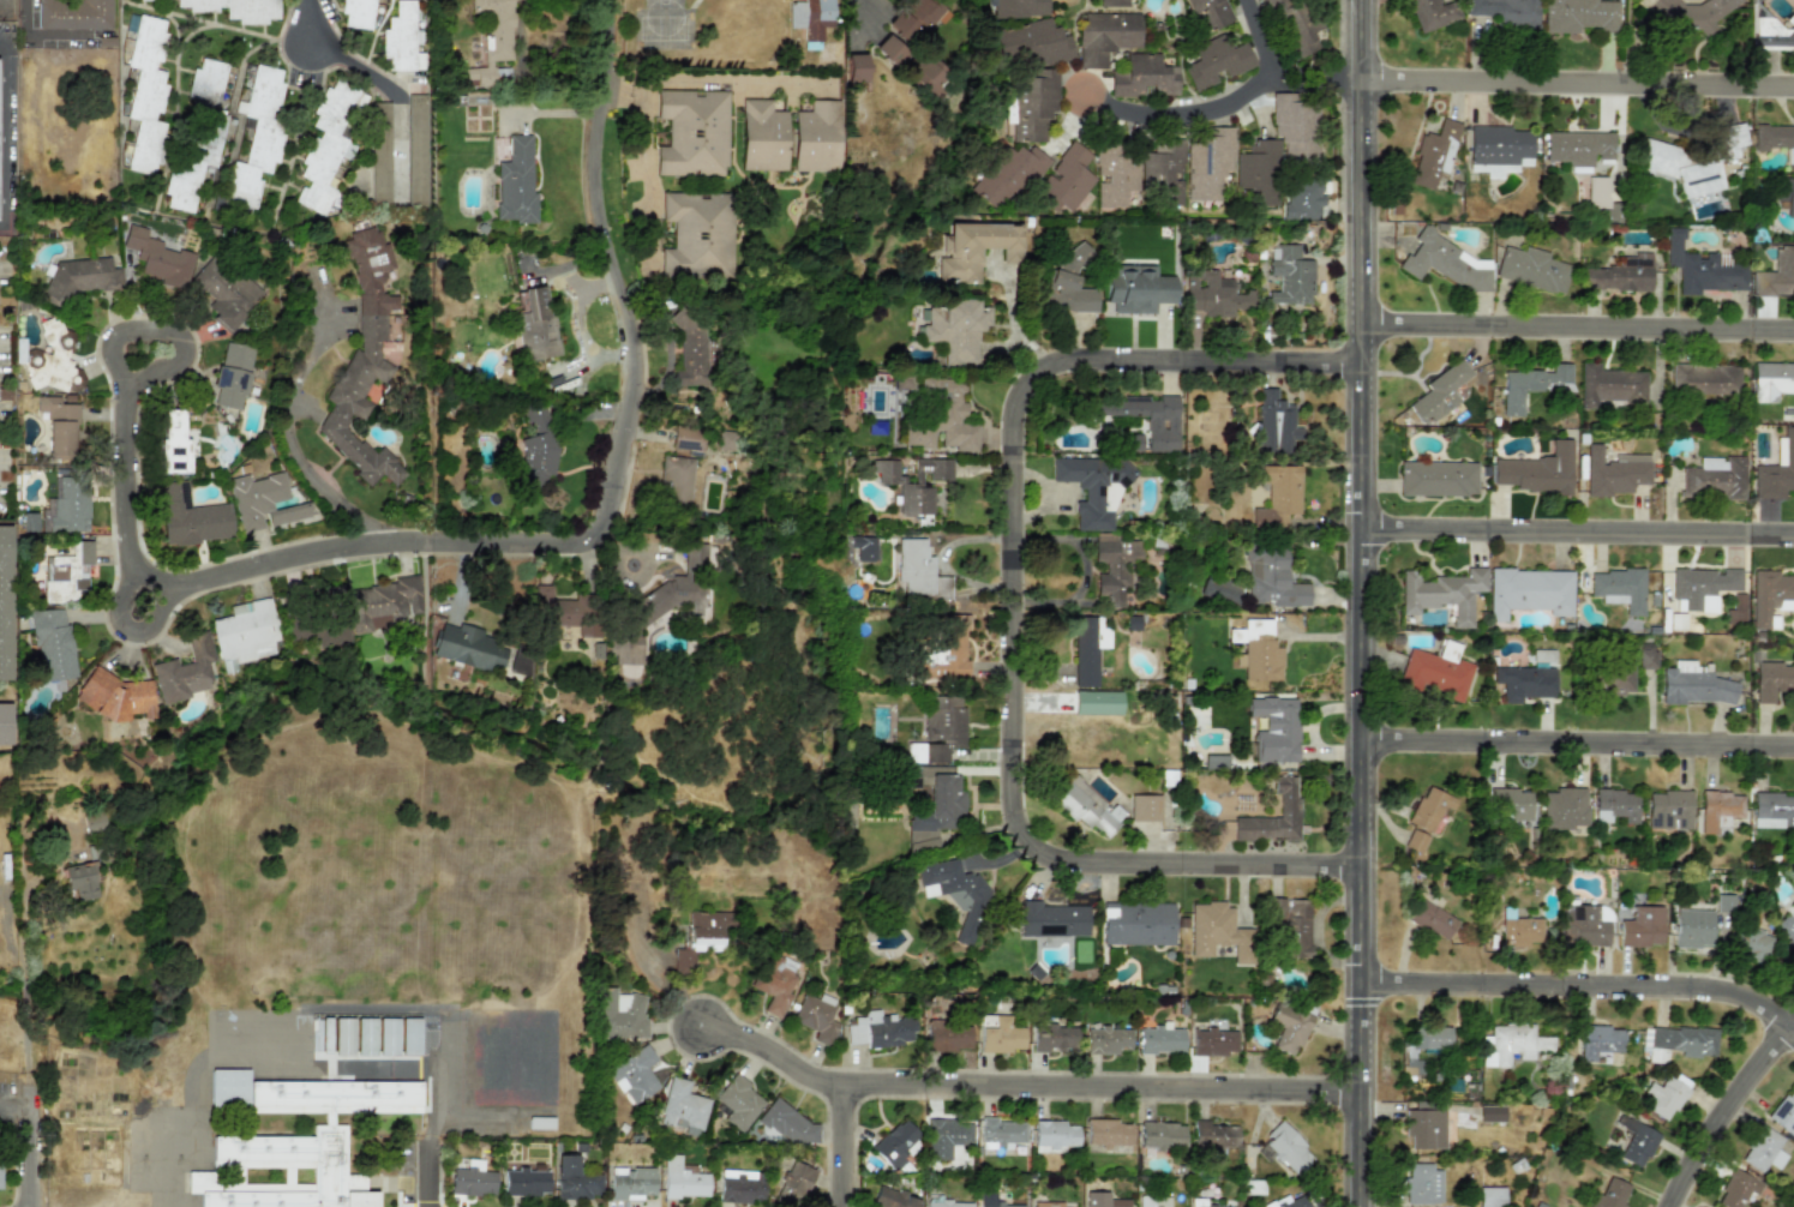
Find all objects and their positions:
building: (1793, 0)
building: (1111, 2)
building: (235, 8)
road: (854, 8)
building: (1018, 8)
building: (1505, 12)
building: (356, 13)
building: (1208, 13)
building: (1429, 13)
building: (1690, 13)
building: (71, 14)
building: (1578, 16)
building: (809, 17)
building: (912, 18)
road: (308, 19)
building: (1294, 25)
building: (1769, 31)
building: (1104, 36)
road: (1272, 36)
building: (402, 38)
building: (491, 41)
building: (1031, 42)
building: (887, 49)
road: (1316, 52)
road: (24, 53)
building: (1214, 61)
road: (353, 65)
building: (854, 67)
road: (1576, 71)
building: (924, 73)
building: (1142, 77)
road: (719, 82)
building: (144, 91)
road: (617, 96)
building: (1030, 104)
road: (1180, 114)
road: (2, 132)
building: (691, 132)
building: (197, 136)
building: (762, 136)
building: (816, 137)
building: (256, 138)
building: (1775, 139)
building: (326, 144)
building: (1500, 145)
building: (1278, 146)
building: (1577, 148)
building: (1433, 154)
building: (415, 156)
building: (1691, 158)
building: (1207, 163)
building: (1163, 169)
building: (1492, 169)
road: (646, 173)
building: (1004, 175)
building: (1114, 175)
building: (1068, 176)
building: (515, 182)
building: (1596, 192)
building: (1786, 193)
building: (1301, 198)
building: (696, 234)
building: (973, 248)
building: (155, 257)
building: (1445, 262)
building: (1700, 268)
building: (1530, 269)
building: (1620, 274)
building: (1776, 274)
building: (1289, 276)
building: (80, 277)
building: (1064, 284)
building: (1135, 288)
building: (222, 292)
building: (1212, 294)
road: (1576, 314)
road: (839, 324)
building: (953, 329)
road: (166, 332)
building: (689, 348)
building: (53, 360)
building: (361, 360)
building: (230, 374)
building: (1703, 379)
building: (1770, 380)
building: (1531, 385)
building: (1609, 385)
building: (1439, 392)
building: (942, 418)
building: (1145, 418)
building: (1273, 422)
building: (60, 430)
building: (686, 439)
building: (726, 440)
building: (1130, 443)
building: (172, 444)
road: (293, 448)
building: (536, 448)
building: (1776, 469)
building: (1535, 470)
building: (1614, 472)
building: (1715, 478)
building: (1436, 479)
building: (674, 480)
building: (912, 482)
building: (1093, 487)
building: (1278, 496)
building: (262, 502)
building: (66, 505)
building: (190, 516)
road: (1576, 521)
road: (539, 540)
building: (863, 547)
building: (1114, 566)
building: (918, 570)
building: (66, 572)
building: (1270, 576)
building: (1703, 587)
building: (1619, 588)
building: (1219, 589)
building: (1529, 592)
building: (1442, 593)
building: (1770, 596)
road: (1009, 598)
building: (5, 601)
building: (662, 601)
building: (384, 602)
road: (1356, 603)
building: (1736, 607)
road: (126, 627)
building: (319, 629)
building: (242, 632)
building: (50, 643)
building: (468, 647)
building: (1087, 648)
building: (946, 650)
building: (1256, 650)
building: (1645, 655)
building: (184, 671)
building: (1435, 672)
building: (1615, 678)
building: (1772, 680)
building: (1524, 681)
building: (1693, 685)
building: (113, 696)
building: (1097, 702)
building: (4, 723)
building: (938, 729)
building: (1273, 729)
road: (1574, 731)
building: (1213, 761)
building: (941, 805)
building: (1288, 805)
building: (1511, 805)
building: (1615, 805)
building: (1087, 806)
building: (1144, 807)
building: (1429, 807)
building: (1564, 809)
building: (1668, 809)
building: (1718, 810)
building: (1772, 810)
building: (89, 821)
park: (443, 836)
building: (922, 840)
building: (1415, 841)
building: (79, 879)
building: (955, 894)
road: (598, 899)
building: (1723, 902)
building: (1052, 919)
building: (1430, 919)
building: (1136, 923)
building: (1291, 925)
building: (1584, 926)
building: (1642, 926)
building: (1692, 929)
building: (1519, 931)
building: (1218, 932)
building: (701, 936)
building: (1751, 944)
road: (1578, 980)
building: (774, 984)
building: (618, 1014)
building: (815, 1019)
building: (1288, 1027)
building: (878, 1029)
building: (320, 1034)
building: (1001, 1034)
building: (342, 1035)
building: (365, 1035)
building: (386, 1035)
building: (409, 1035)
building: (947, 1035)
building: (1054, 1037)
building: (1429, 1037)
building: (1160, 1039)
building: (1106, 1040)
building: (1213, 1041)
building: (1676, 1041)
building: (1597, 1043)
building: (1510, 1044)
building: (1411, 1067)
road: (317, 1068)
building: (632, 1074)
building: (228, 1087)
road: (1021, 1091)
building: (1663, 1098)
building: (737, 1101)
road: (14, 1105)
road: (1724, 1106)
building: (682, 1107)
road: (29, 1111)
building: (1490, 1113)
building: (1784, 1113)
building: (540, 1123)
building: (788, 1123)
building: (1424, 1129)
building: (1106, 1131)
building: (998, 1133)
building: (1212, 1134)
building: (1054, 1135)
building: (1160, 1135)
building: (946, 1139)
building: (1636, 1141)
building: (894, 1142)
building: (296, 1147)
building: (1285, 1148)
road: (842, 1149)
building: (1763, 1149)
road: (428, 1178)
building: (680, 1178)
building: (574, 1179)
building: (472, 1181)
building: (524, 1181)
building: (630, 1182)
building: (793, 1183)
building: (1422, 1183)
building: (739, 1185)
building: (1735, 1189)
building: (1610, 1194)
building: (1490, 1196)
building: (985, 1197)
building: (890, 1199)
building: (1103, 1200)
building: (1152, 1201)
building: (1286, 1202)
building: (947, 1203)
building: (1202, 1203)
building: (1046, 1205)

